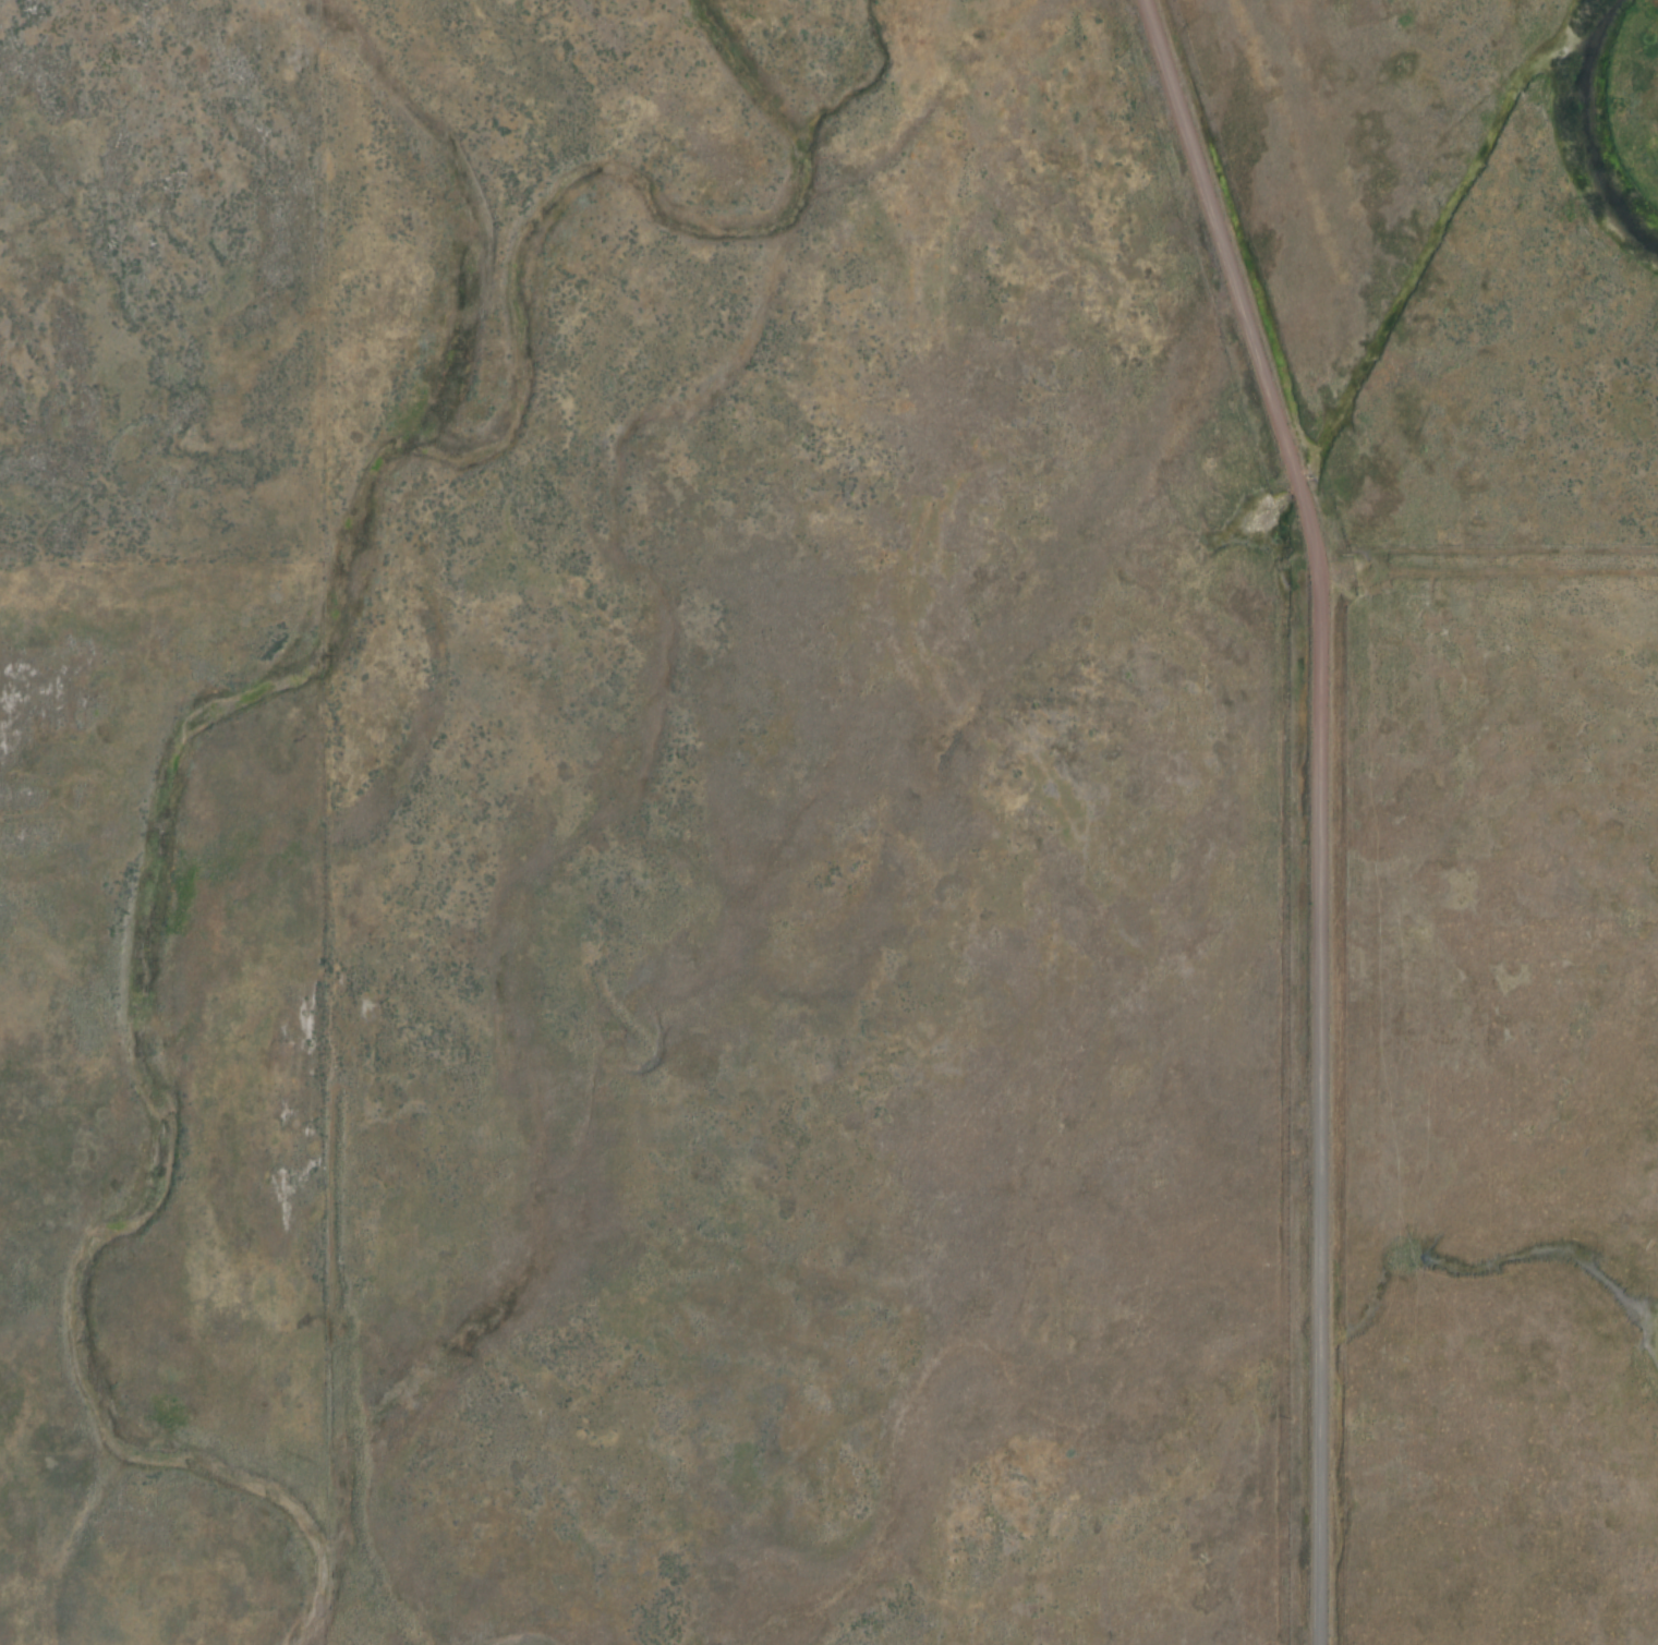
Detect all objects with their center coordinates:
road: (1324, 809)

